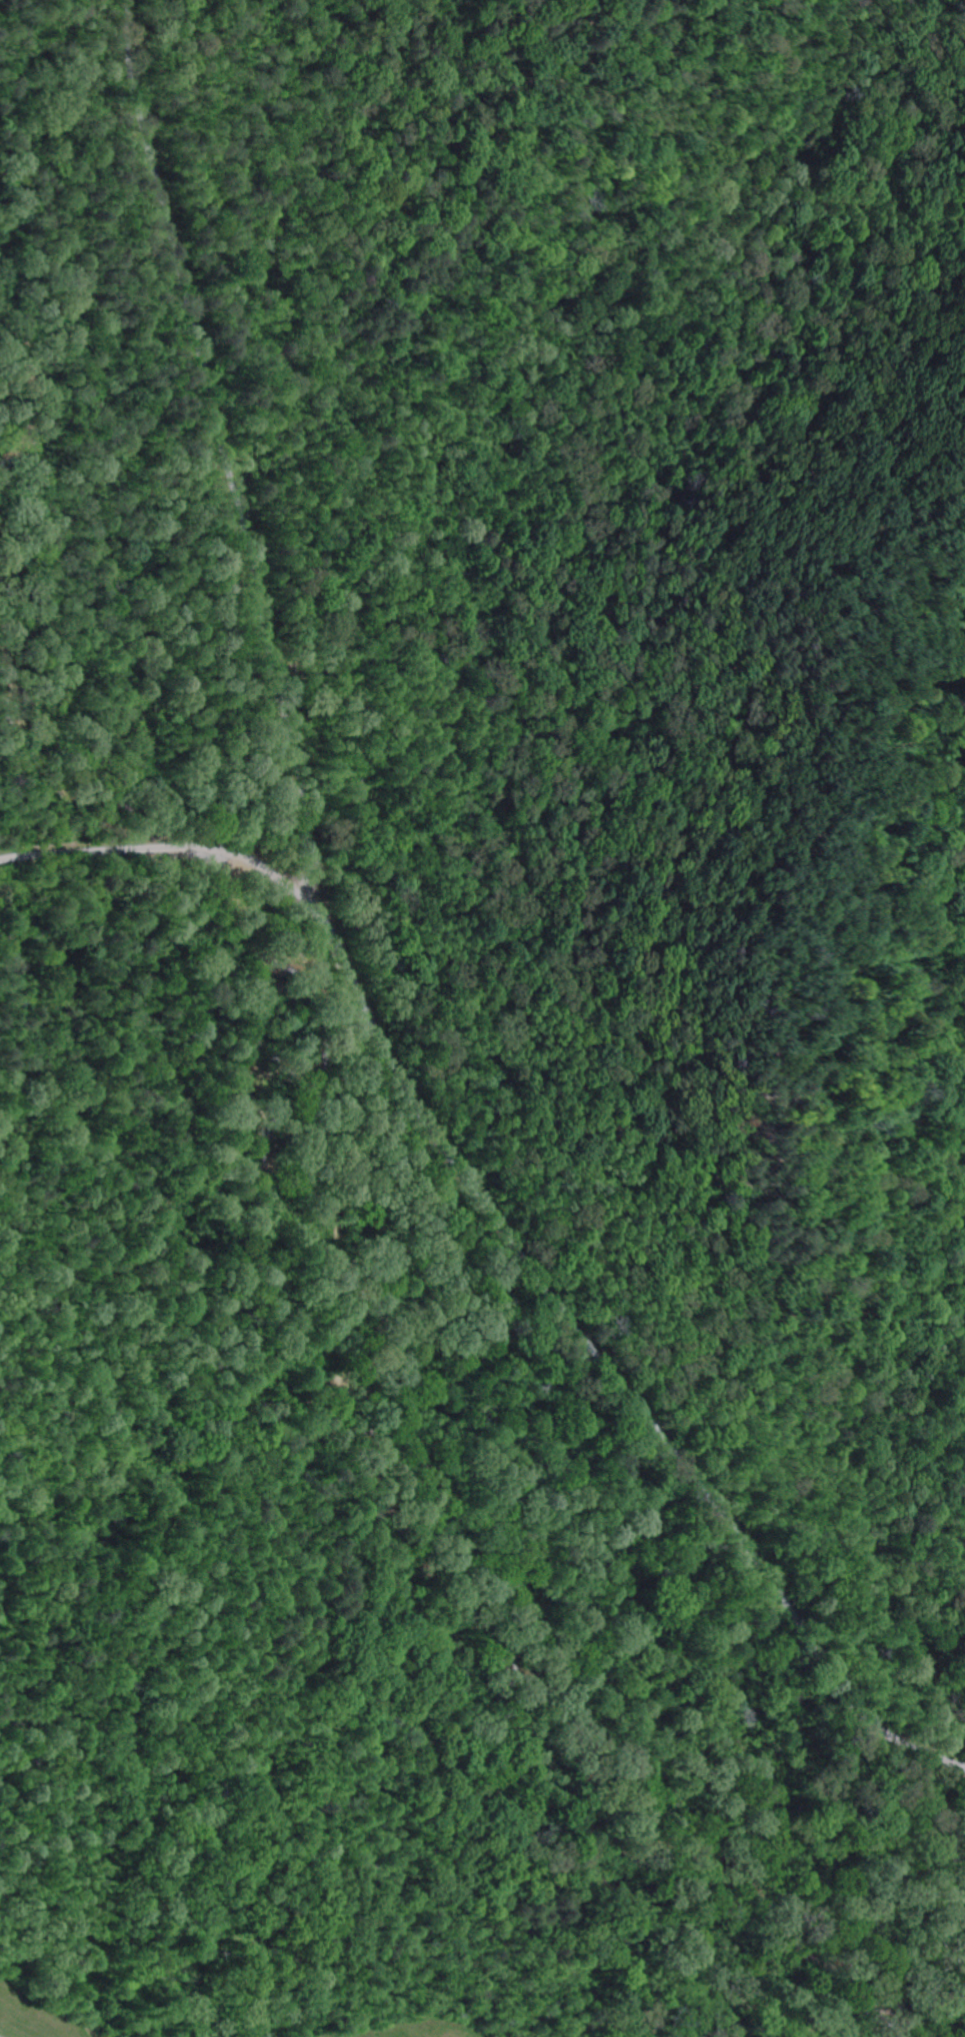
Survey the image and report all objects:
road: (225, 446)
road: (503, 1235)

